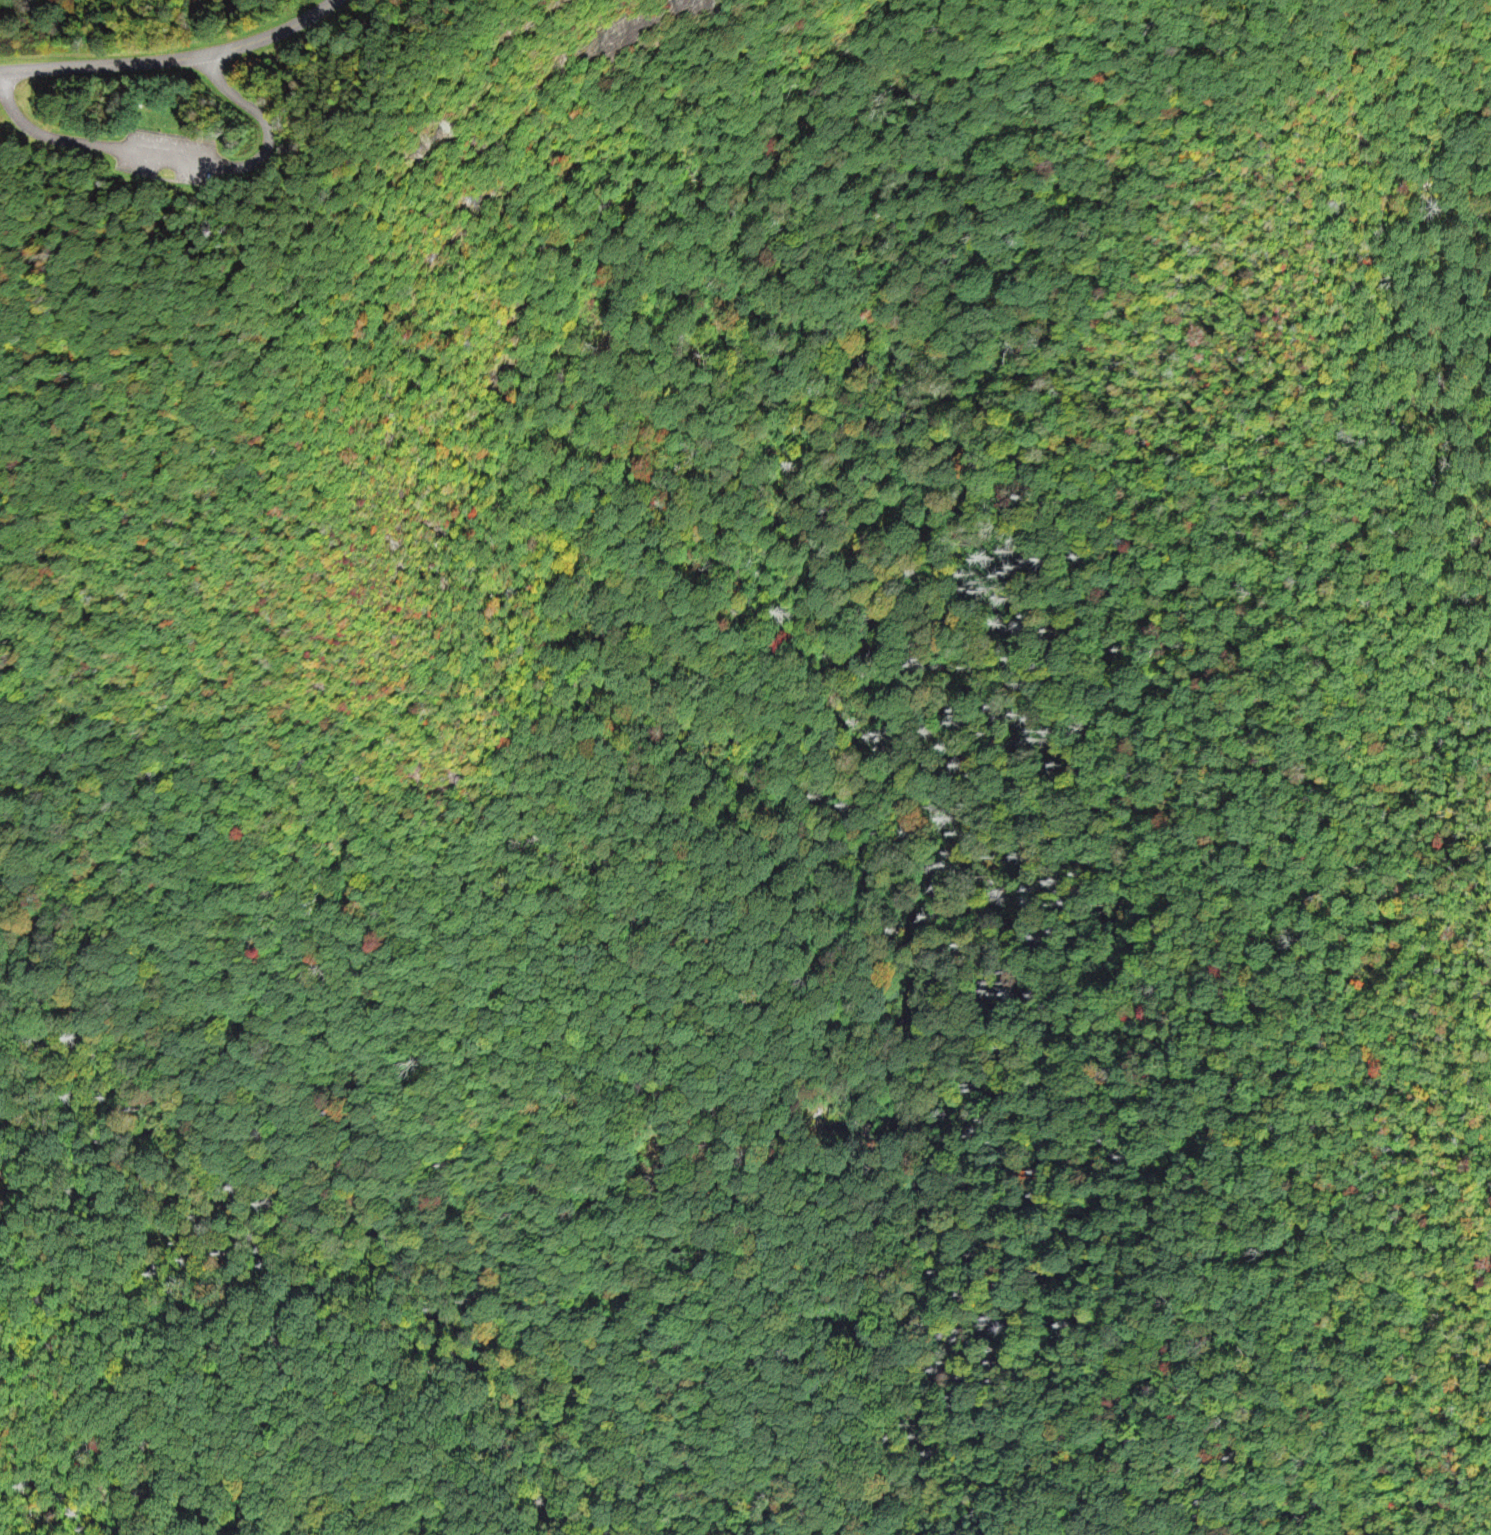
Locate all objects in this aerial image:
road: (171, 58)
road: (340, 141)
parking lot: (166, 154)
road: (182, 157)
river: (318, 1229)

